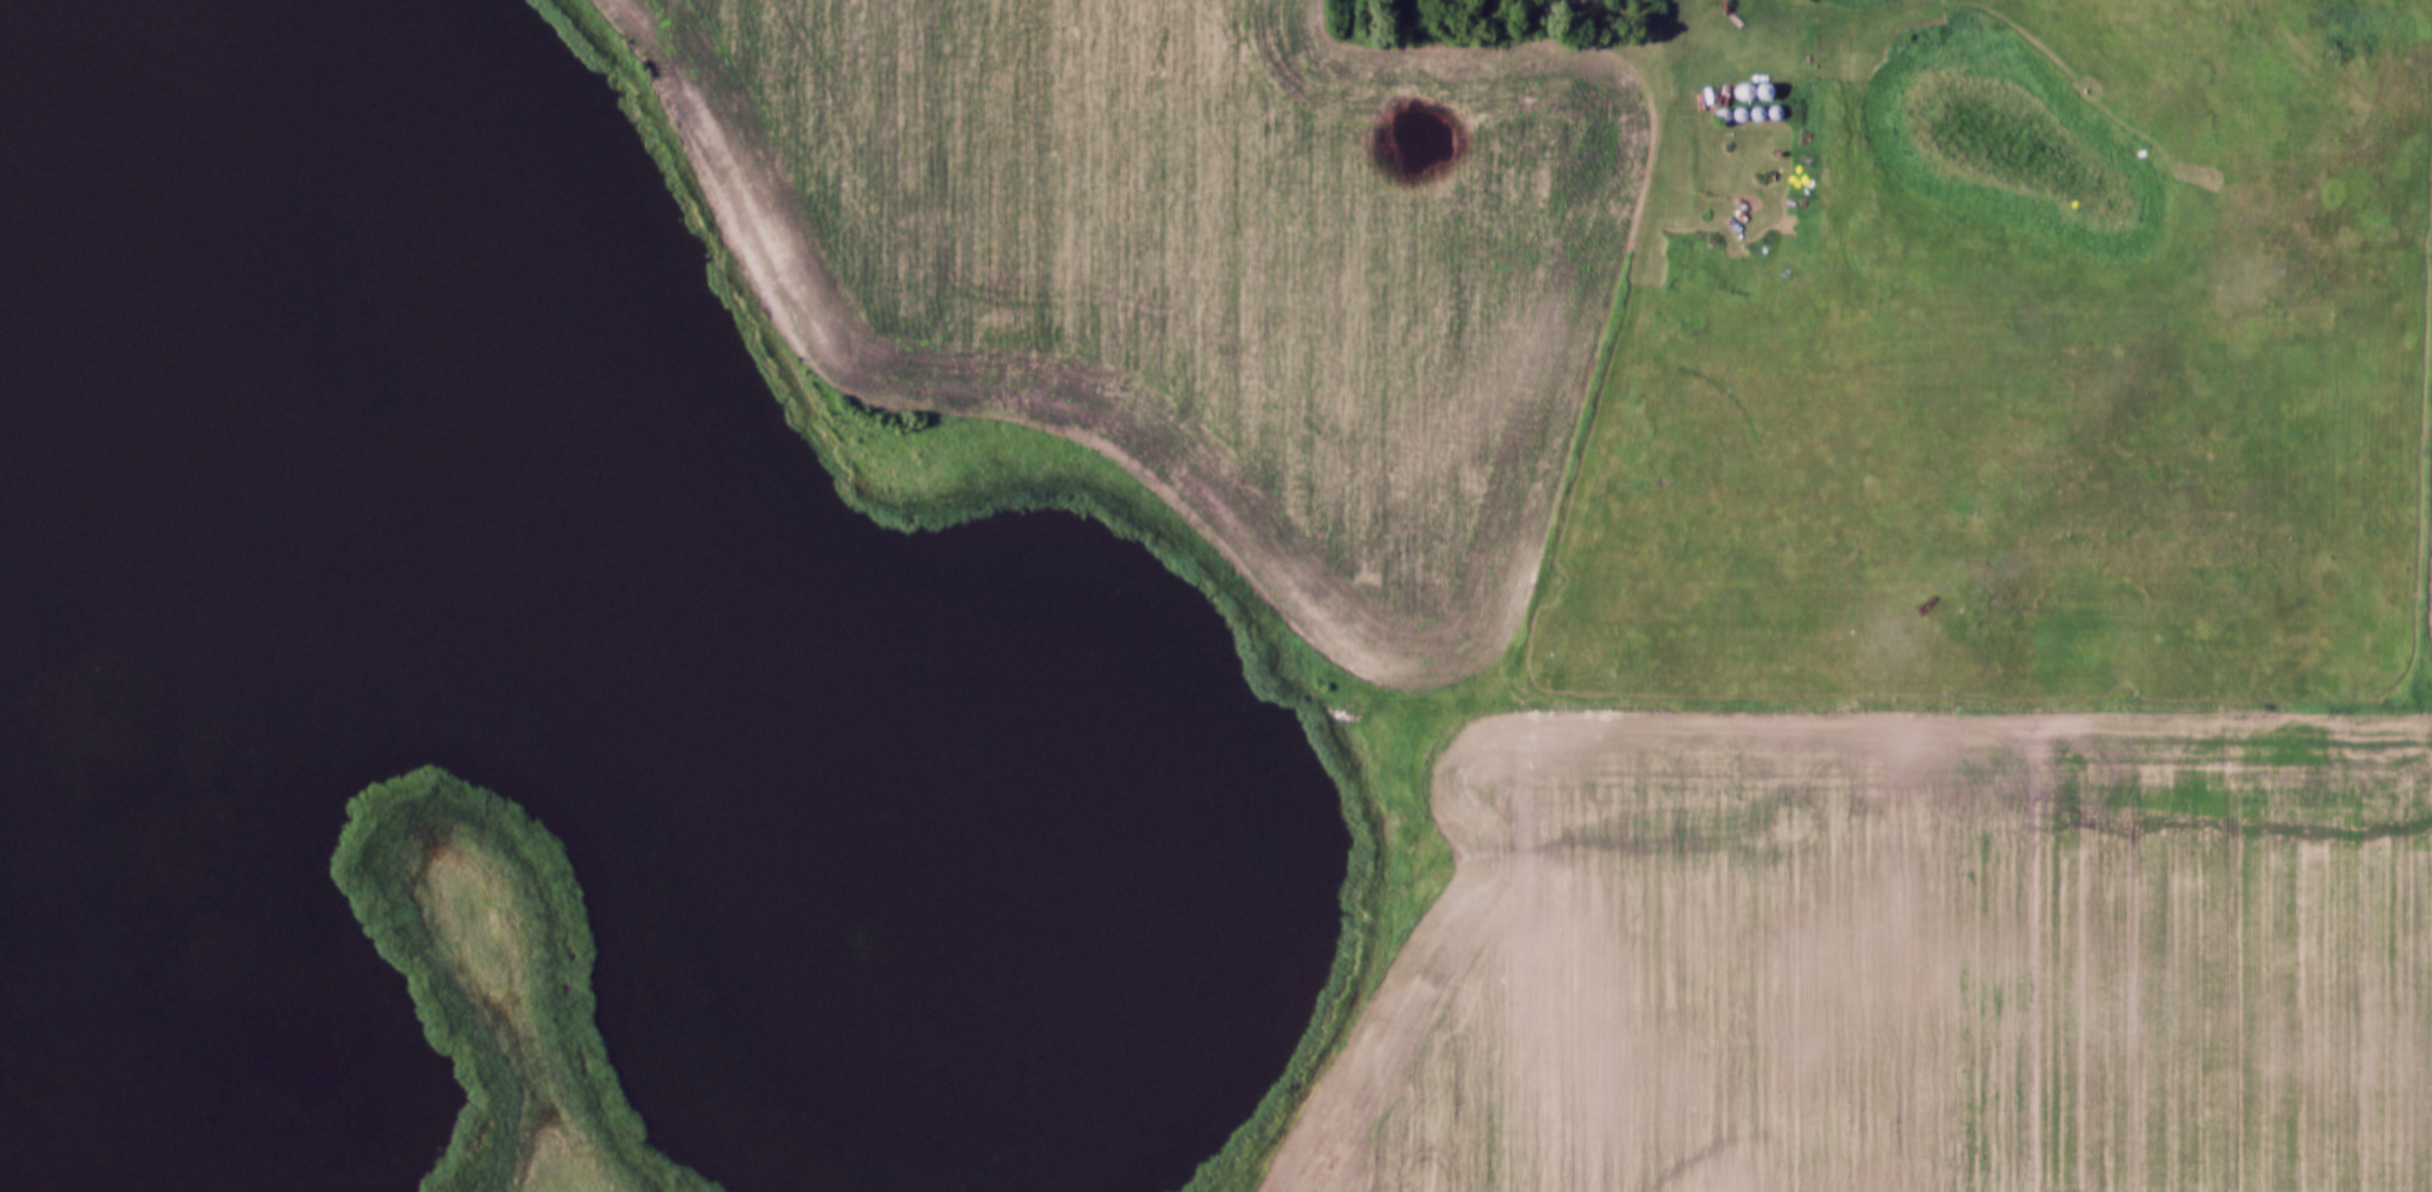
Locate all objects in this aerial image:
road: (1620, 352)

